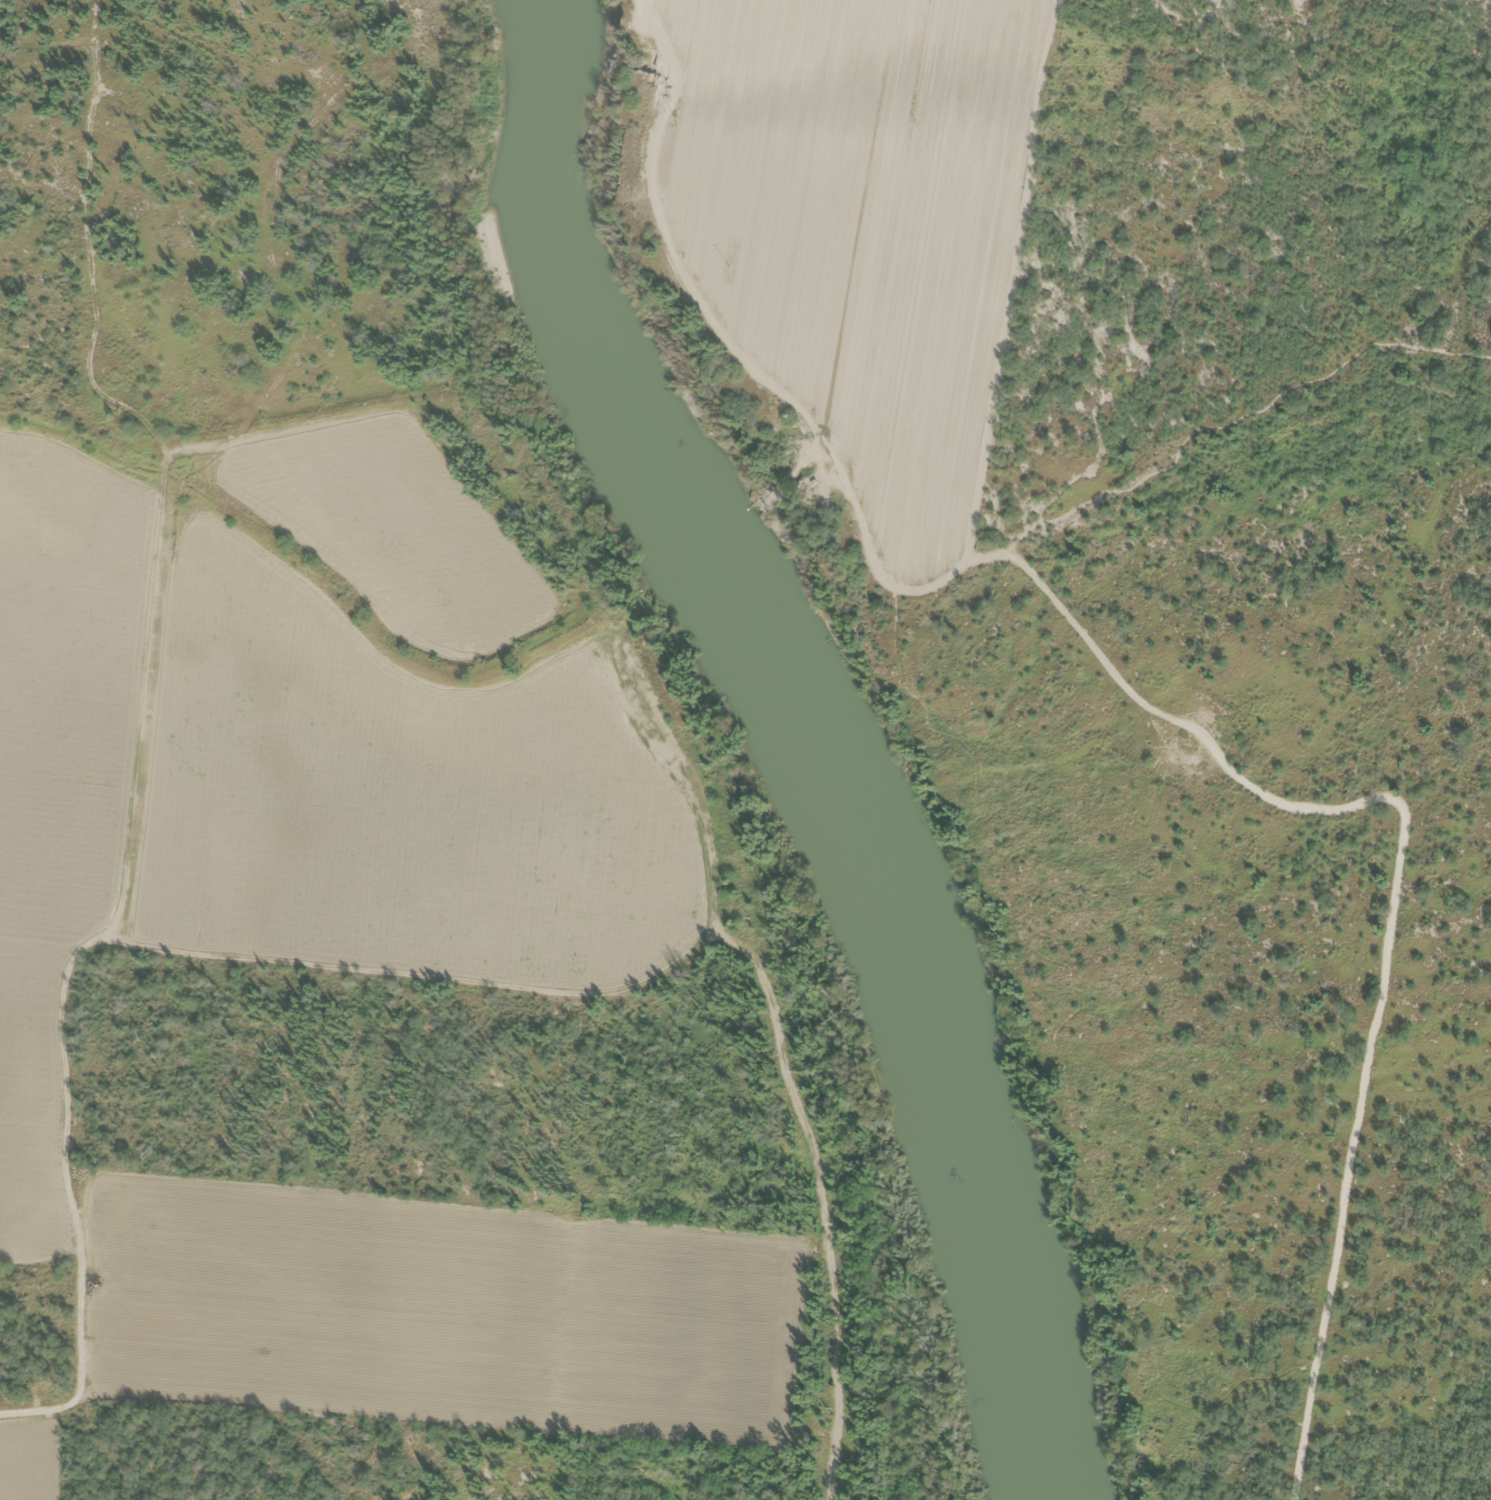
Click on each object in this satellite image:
river: (808, 732)

